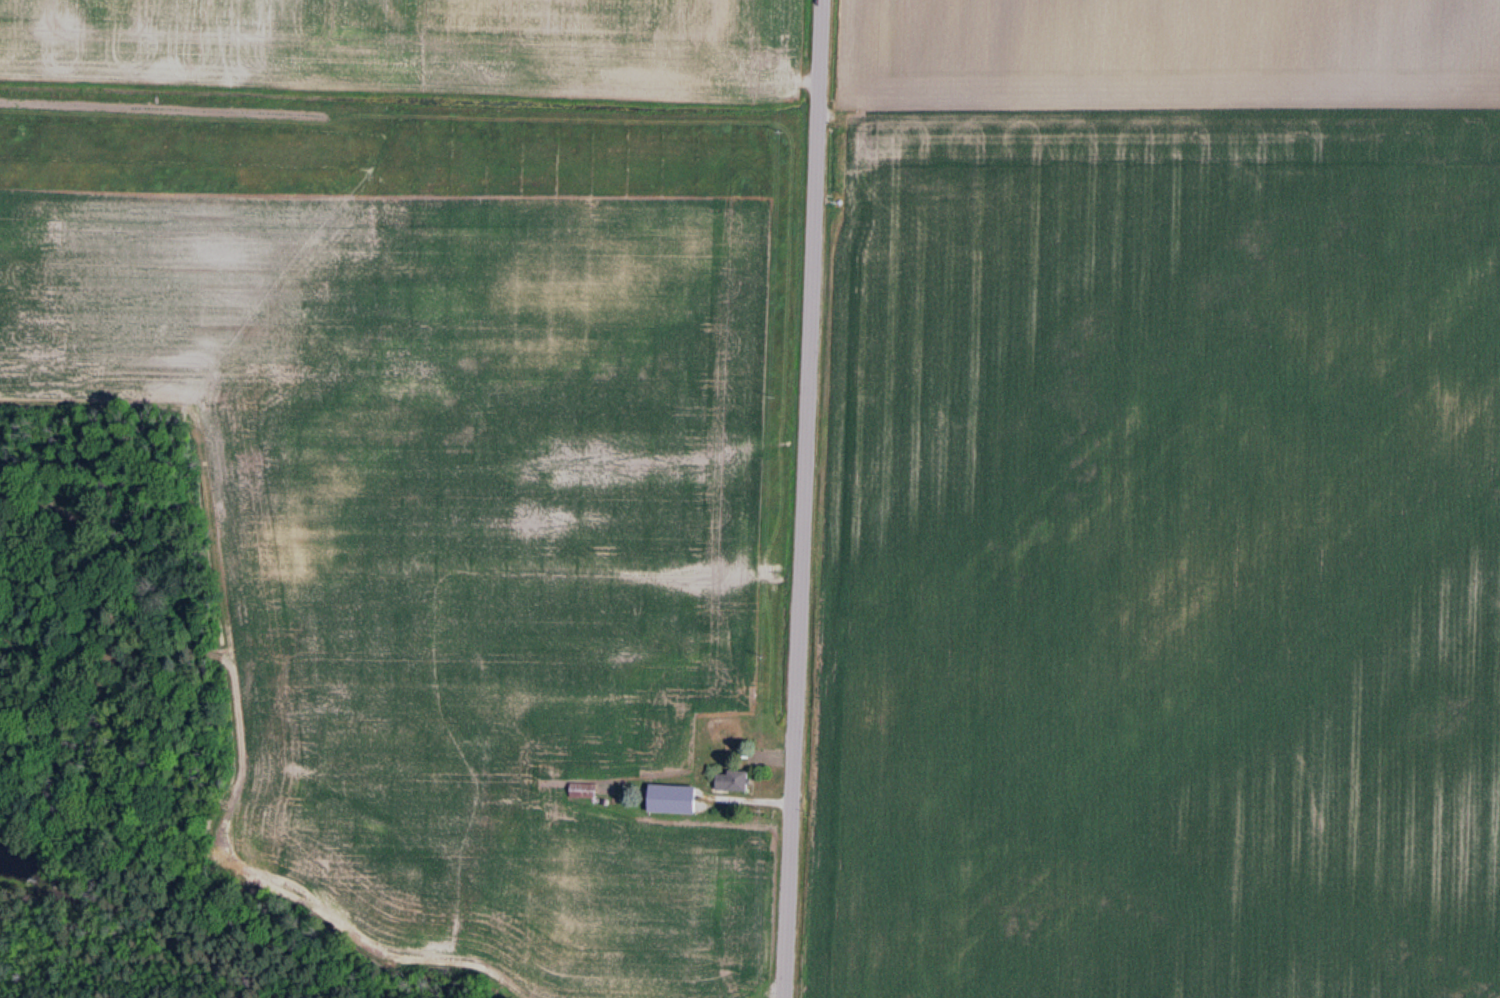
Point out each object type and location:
road: (1158, 143)
road: (801, 499)
building: (732, 782)
building: (583, 791)

